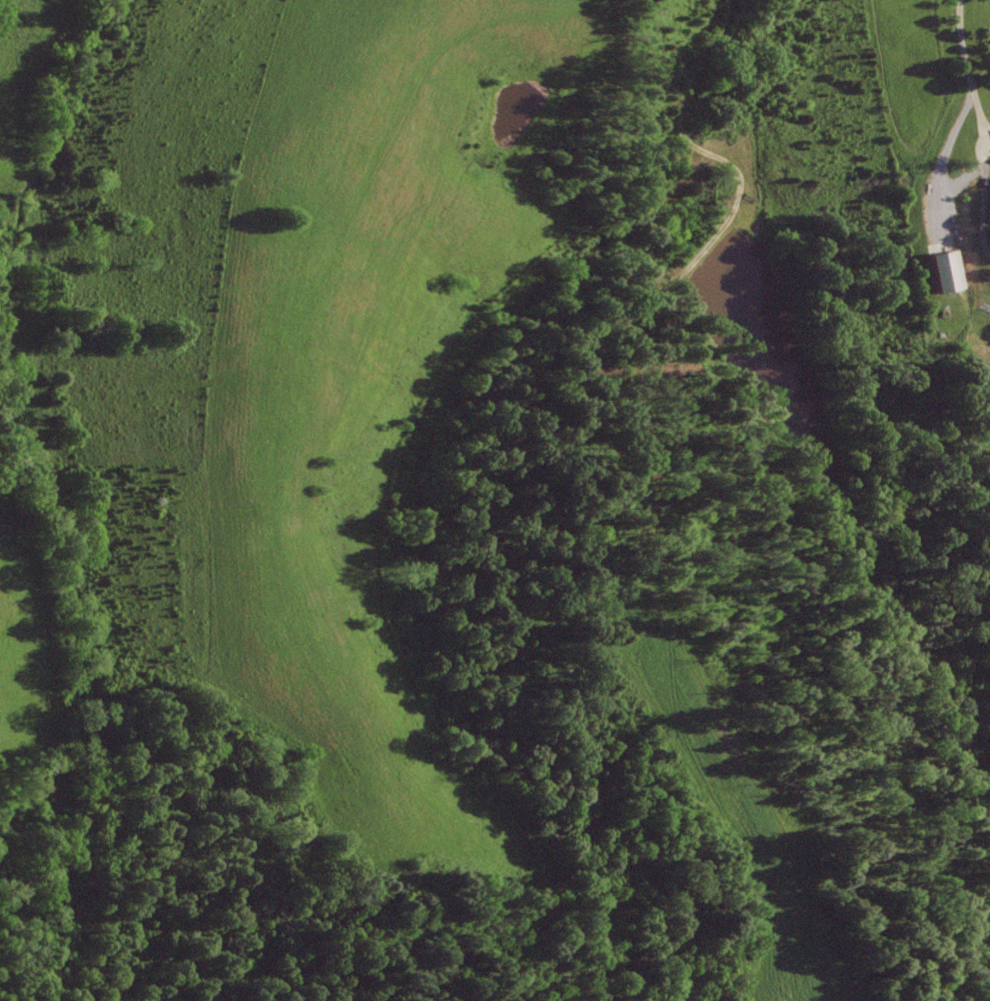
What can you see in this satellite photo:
road: (978, 131)
road: (718, 157)
building: (944, 271)
building: (659, 329)

